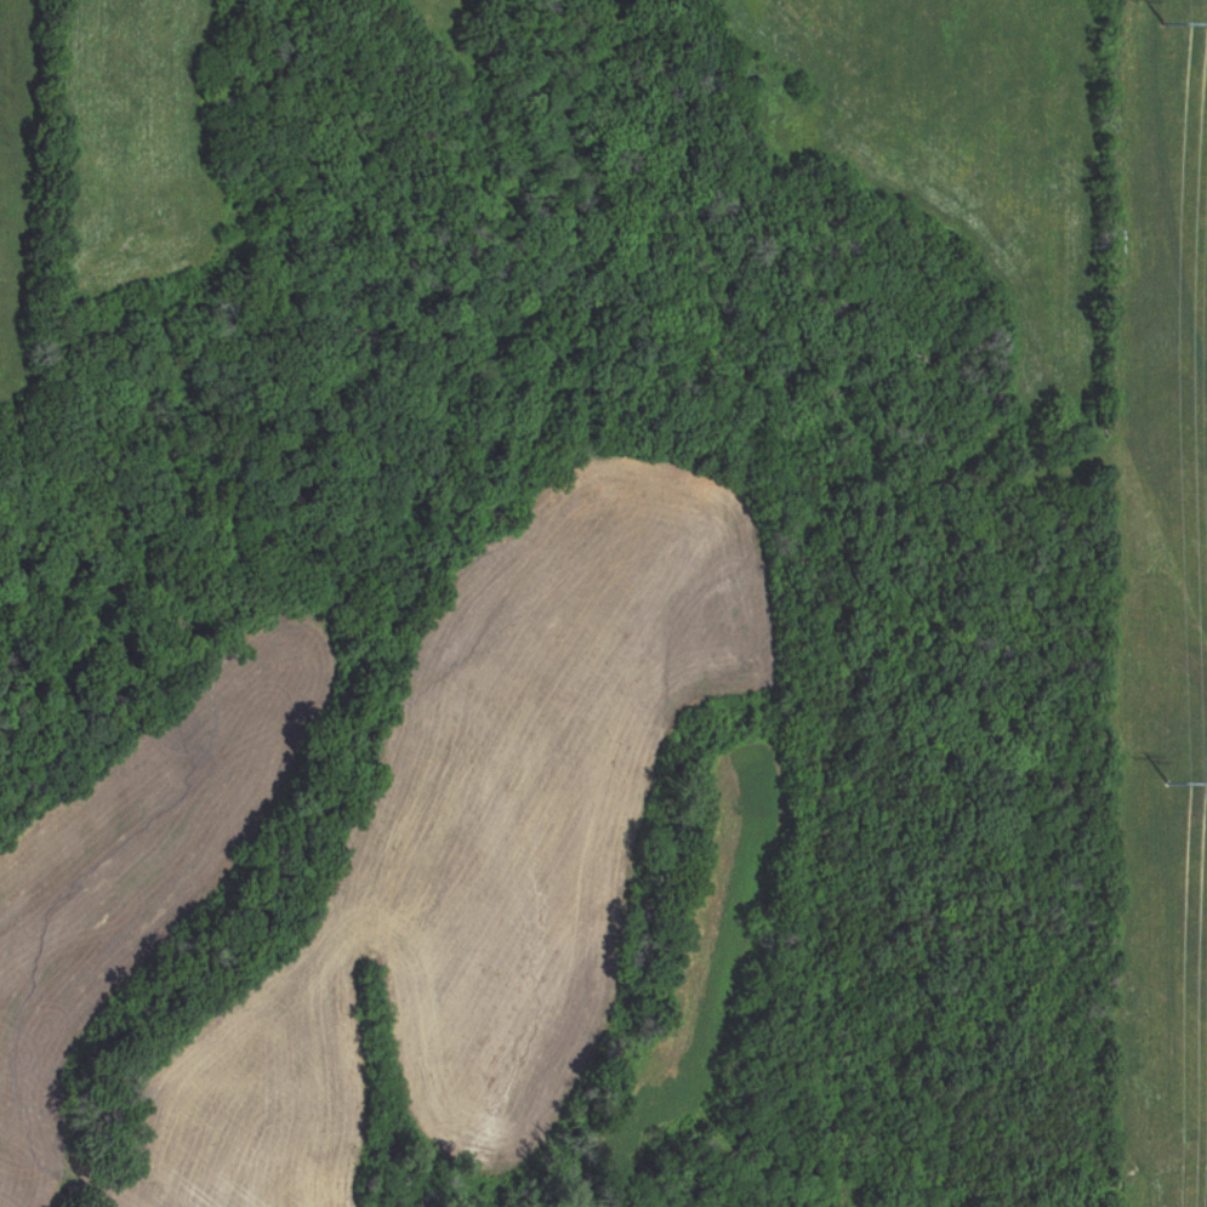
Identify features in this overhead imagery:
power tower: (1179, 28)
power tower: (1182, 797)

